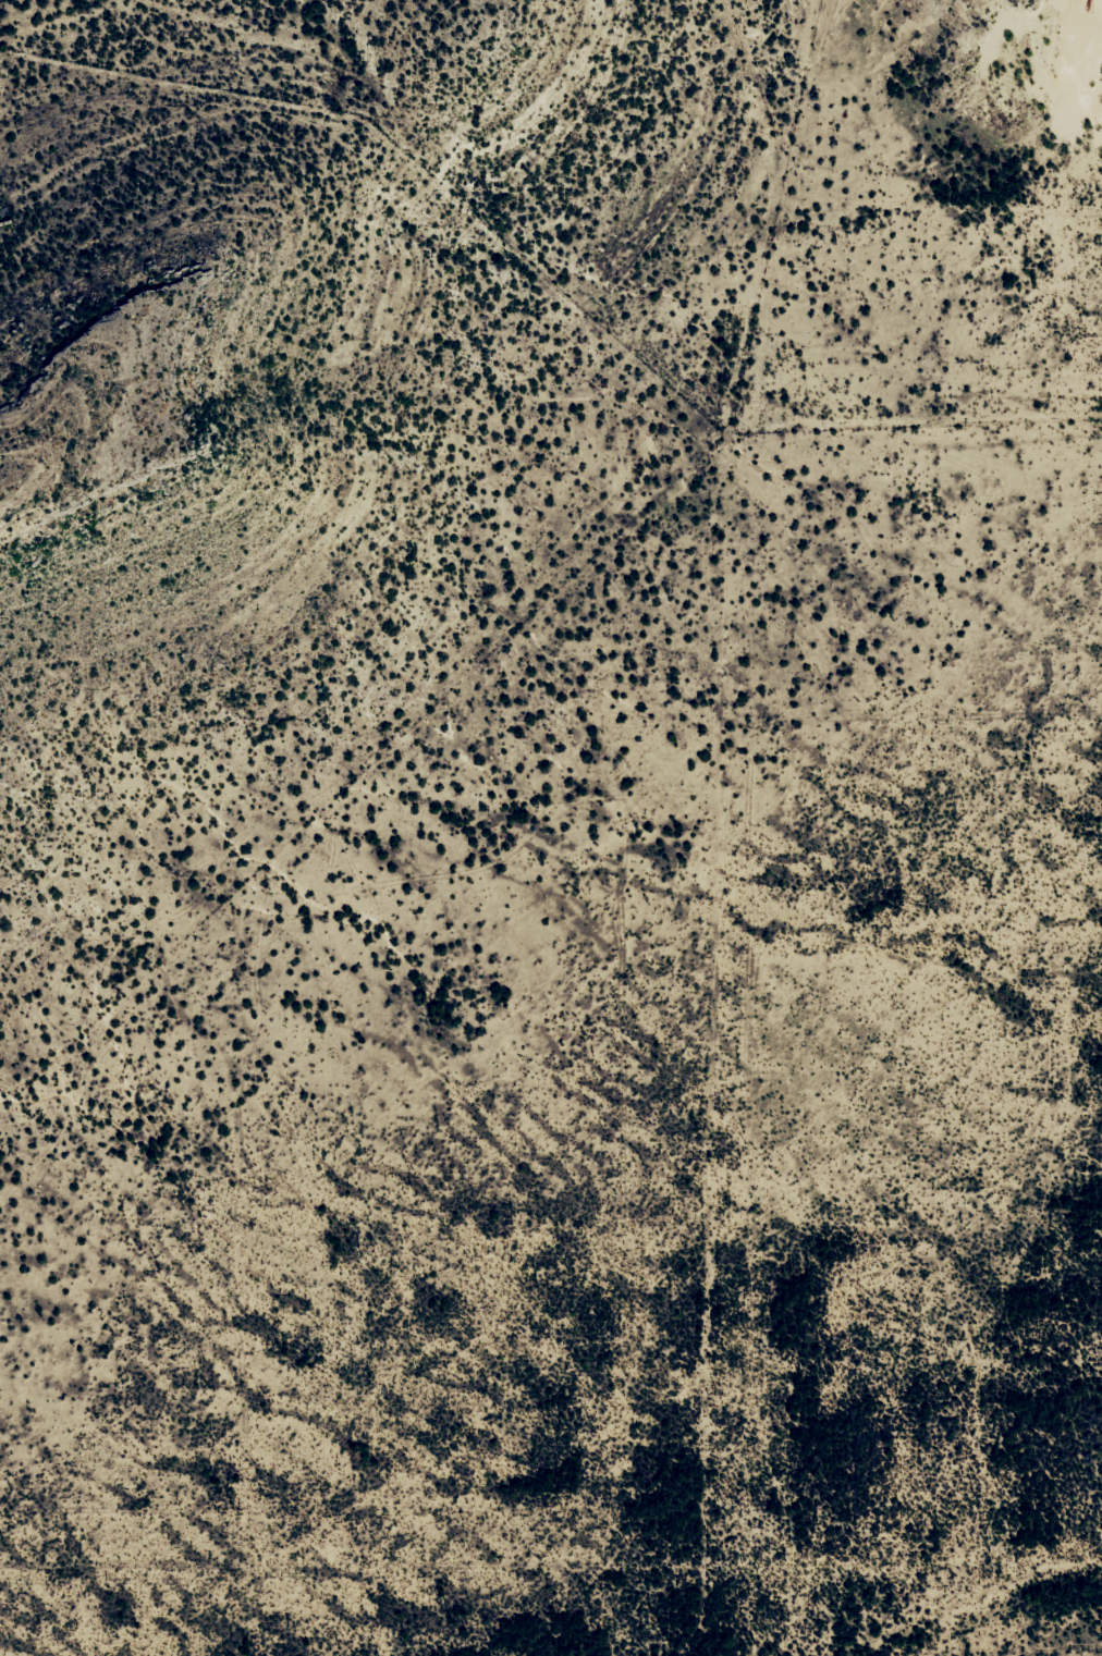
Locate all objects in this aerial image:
road: (662, 821)

